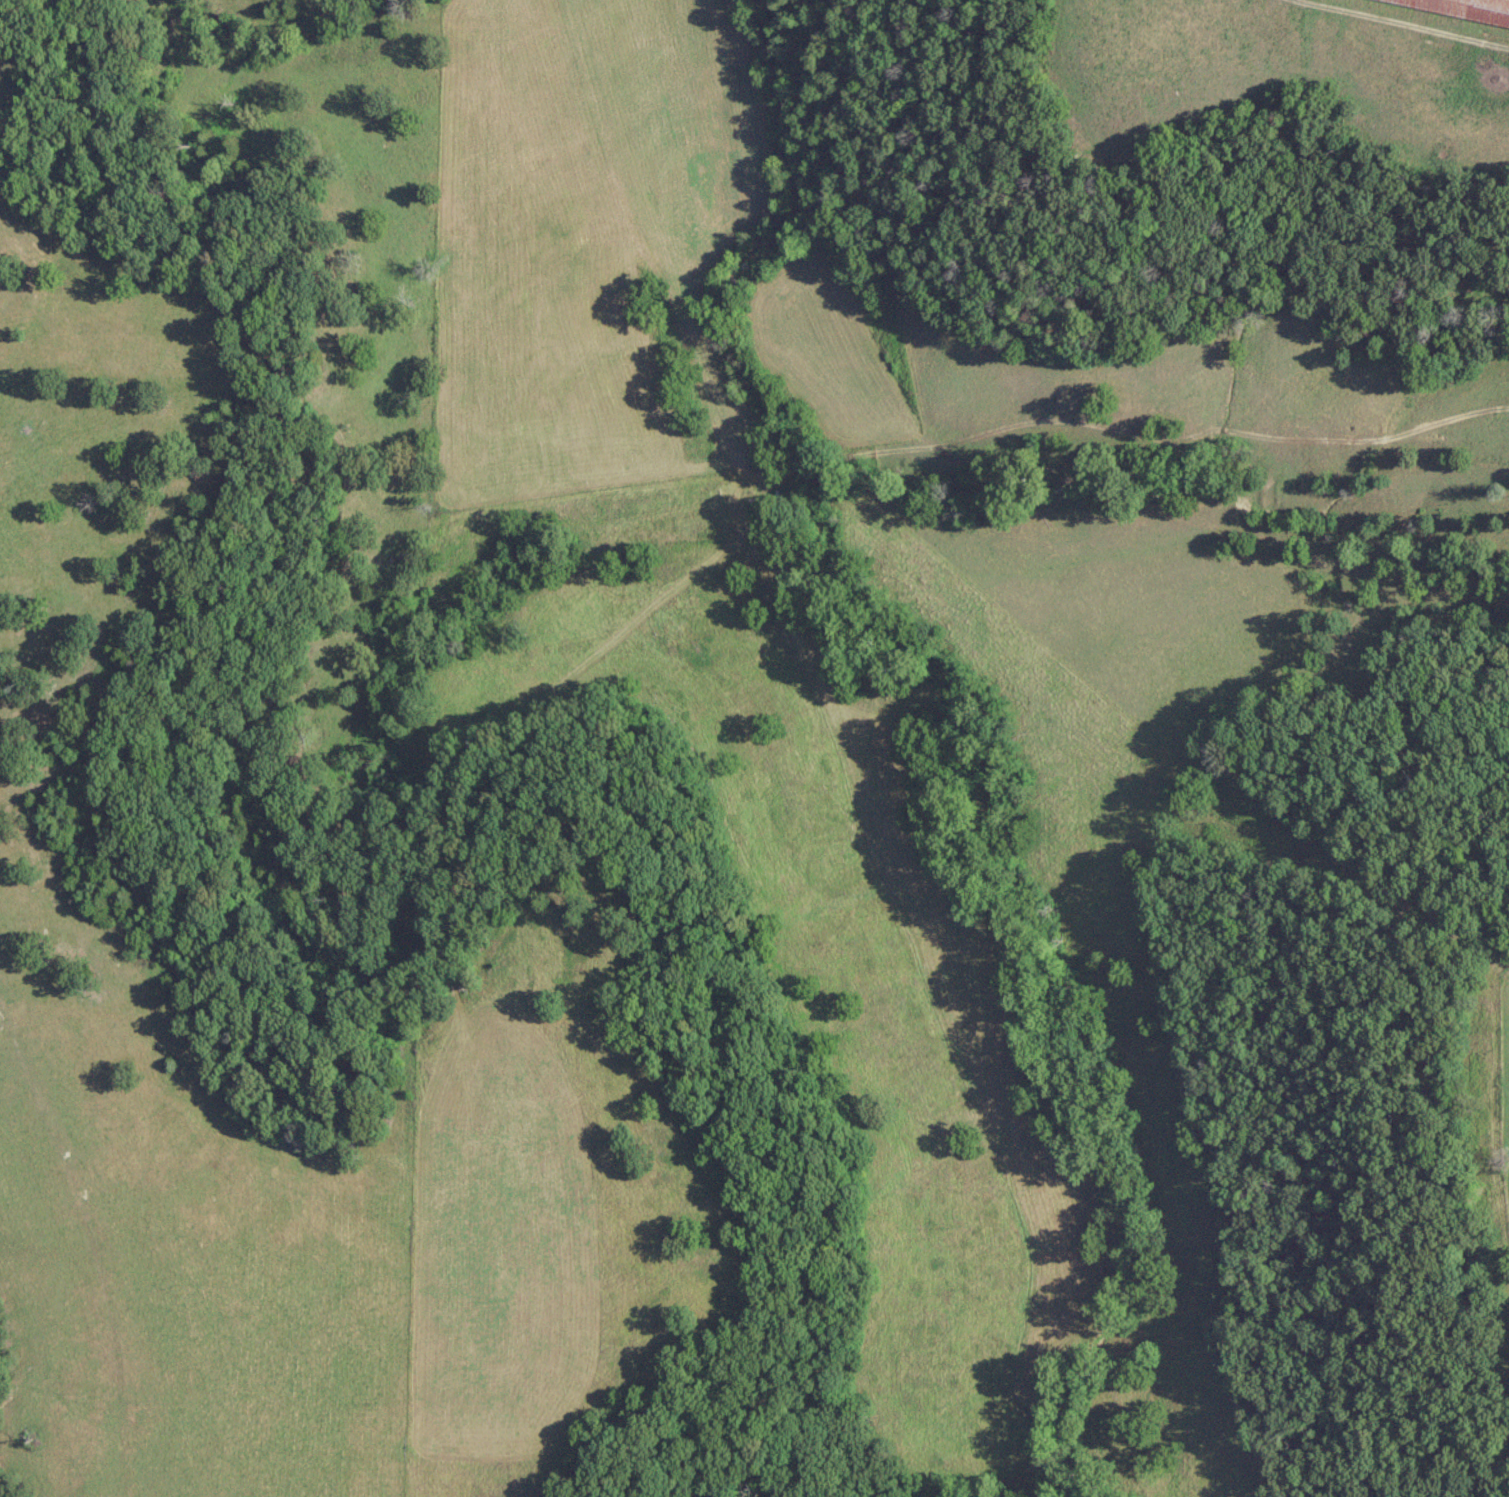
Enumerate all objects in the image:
building: (1464, 8)

